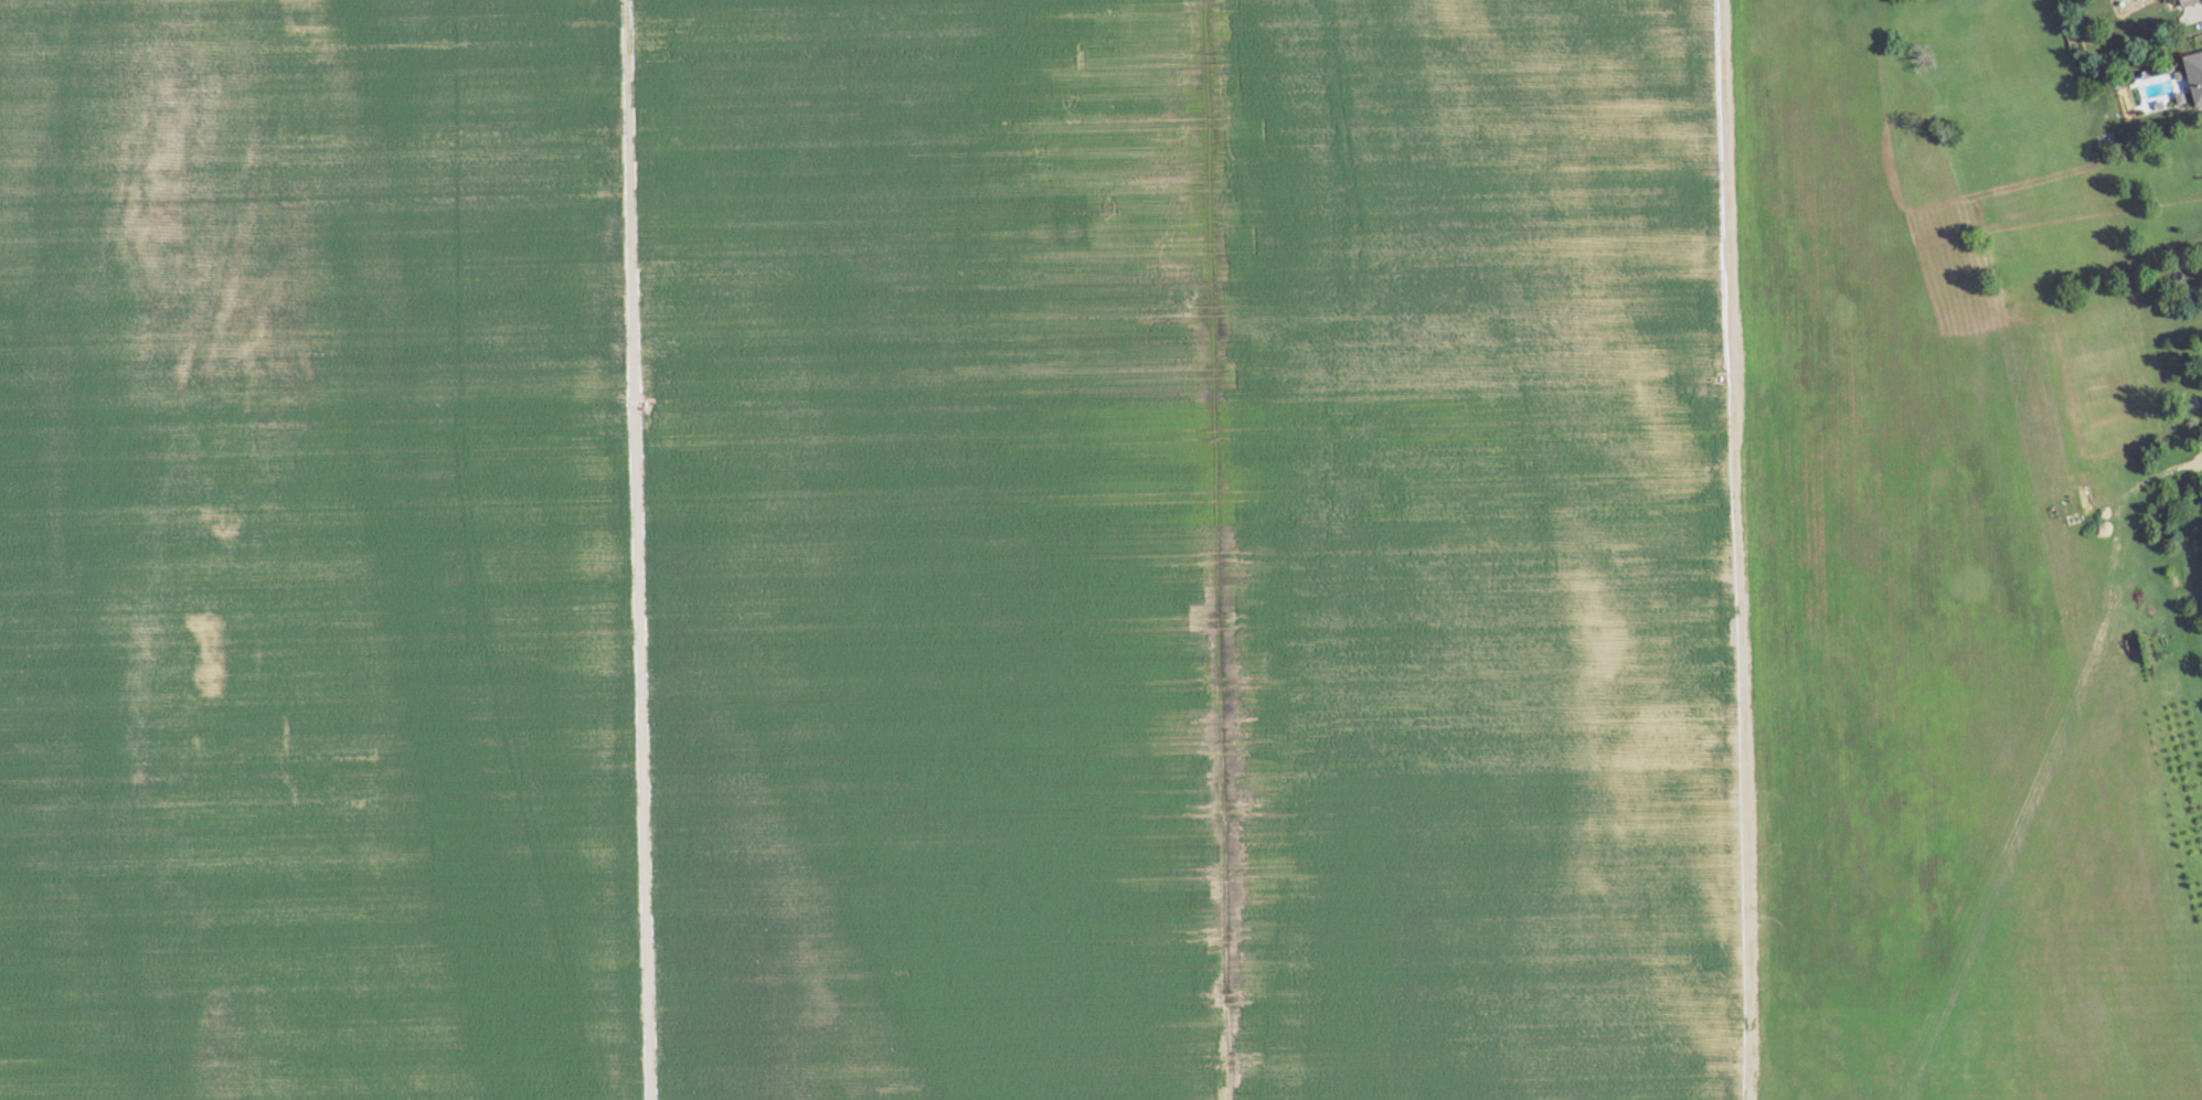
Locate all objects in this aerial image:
building: (2190, 2)
building: (2193, 75)

